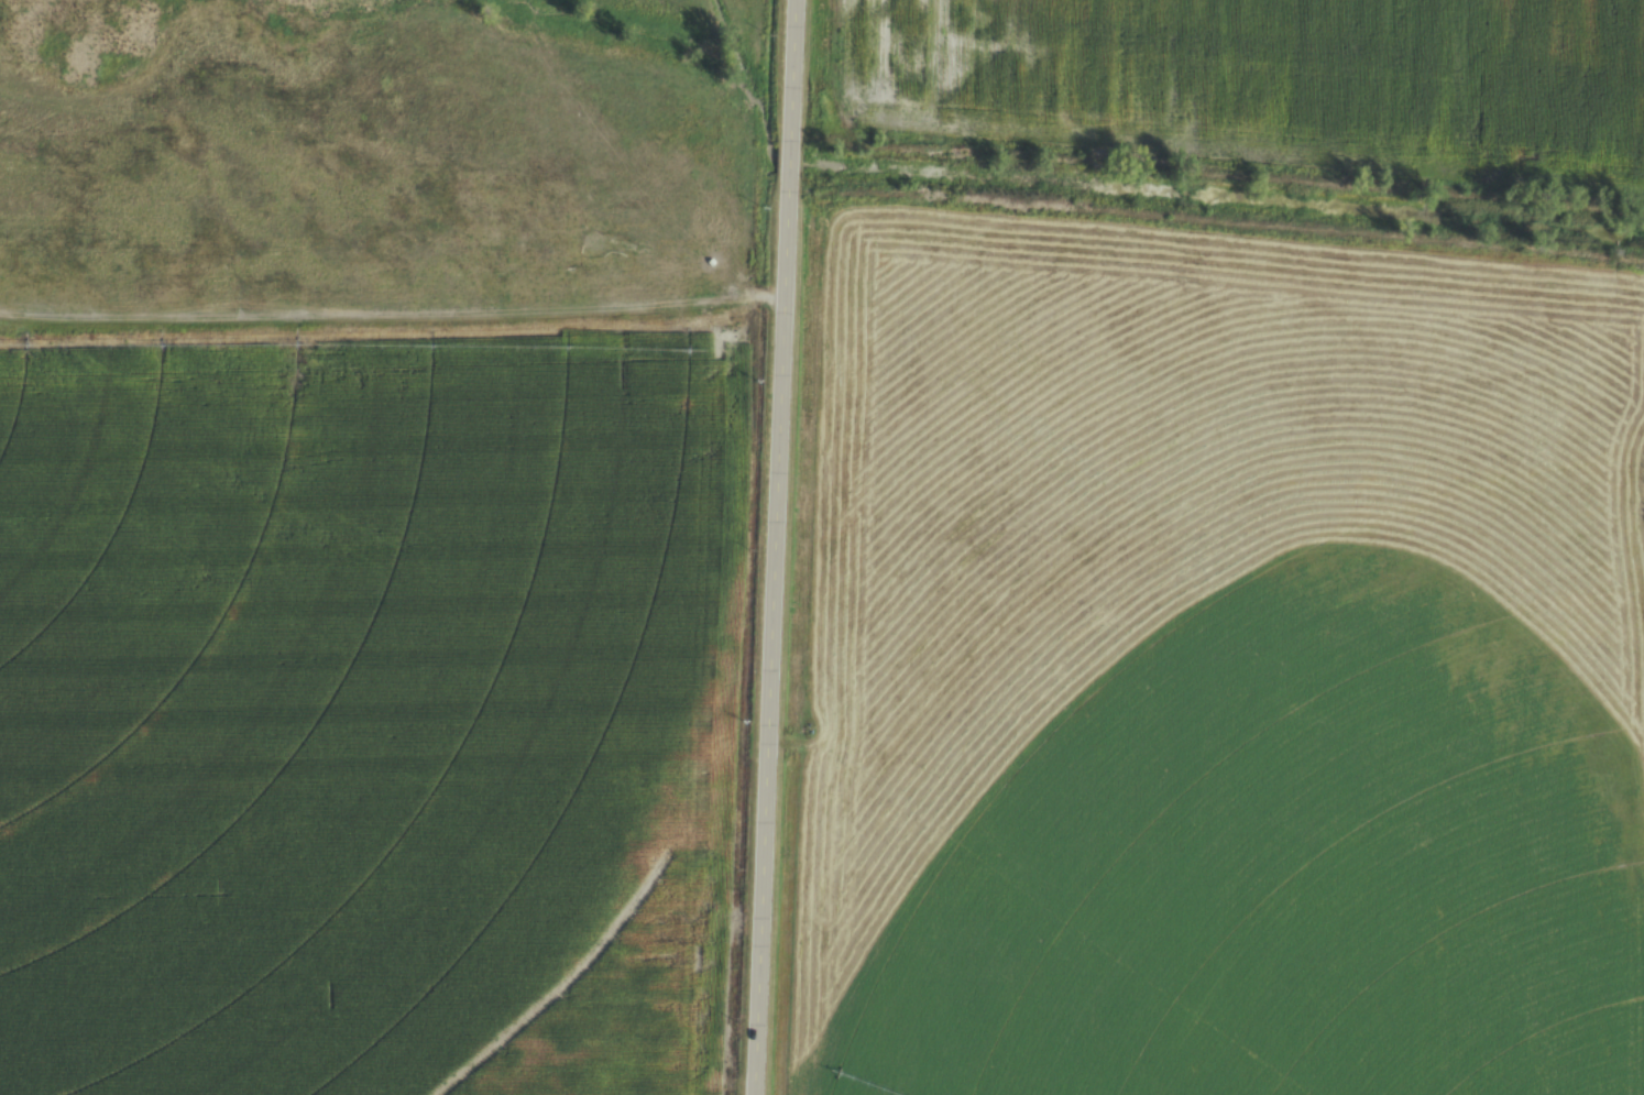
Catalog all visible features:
crop: (1265, 75)
road: (775, 547)

